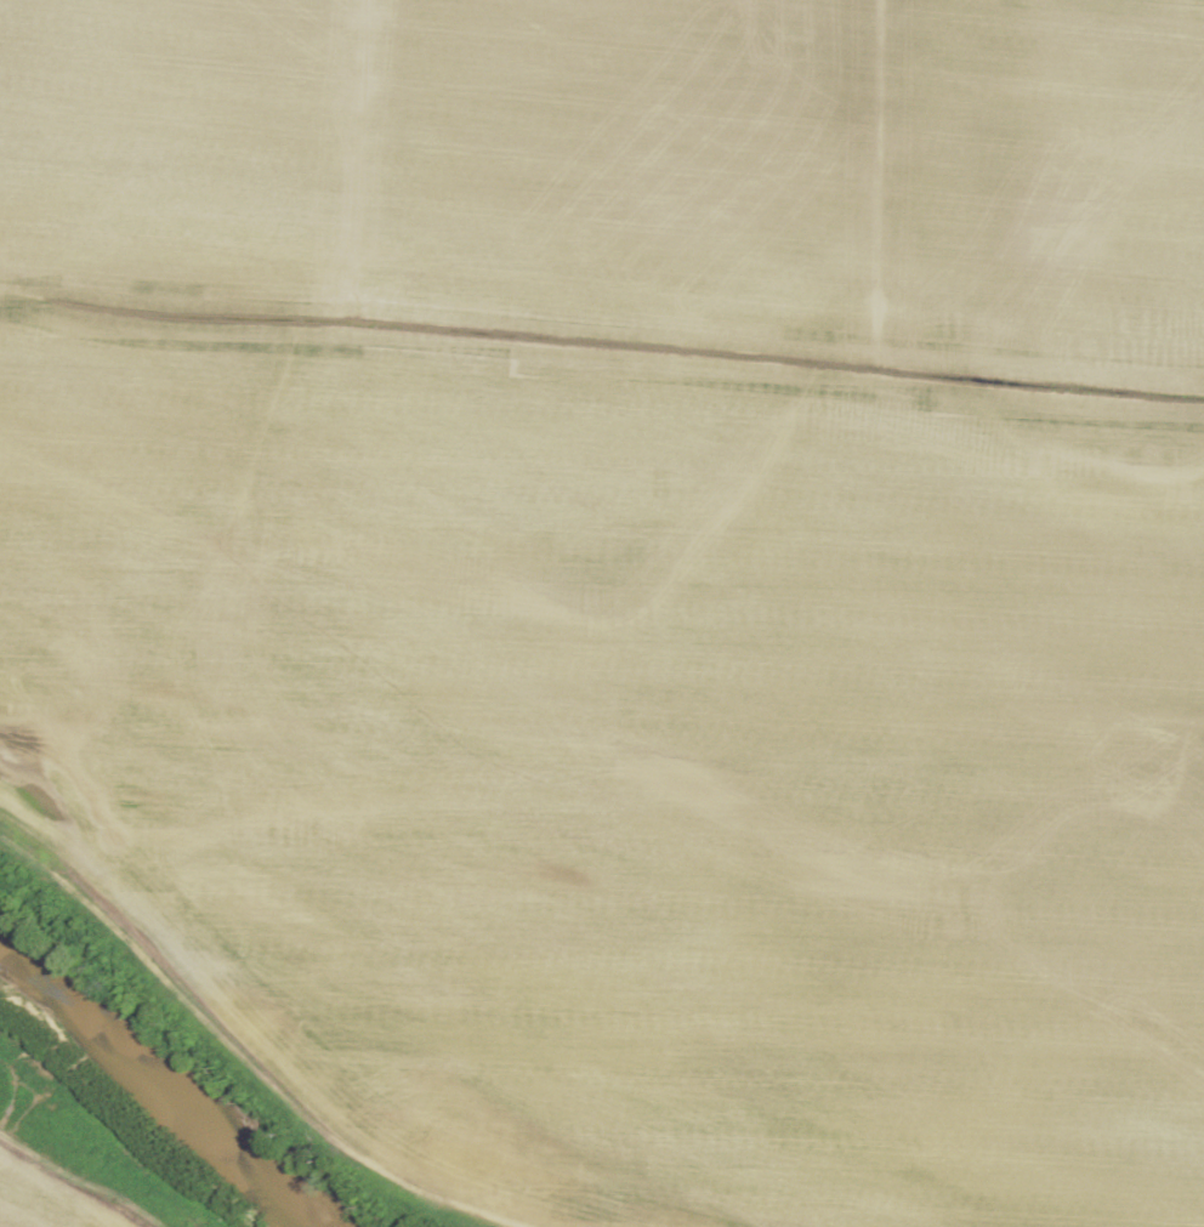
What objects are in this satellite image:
river: (167, 1073)

